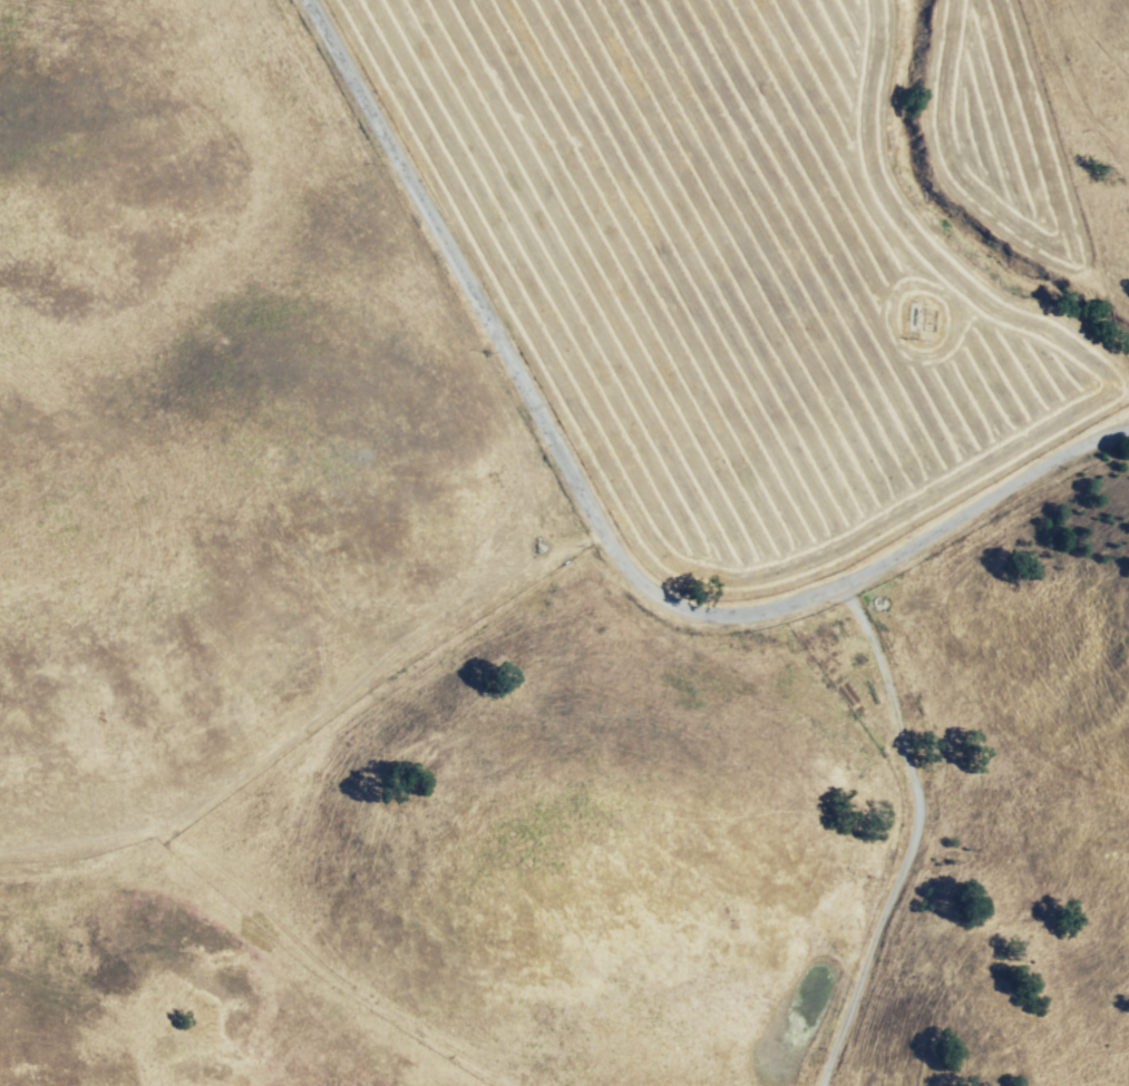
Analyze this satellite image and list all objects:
crop: (780, 248)
road: (591, 538)
road: (1020, 736)
road: (897, 834)

